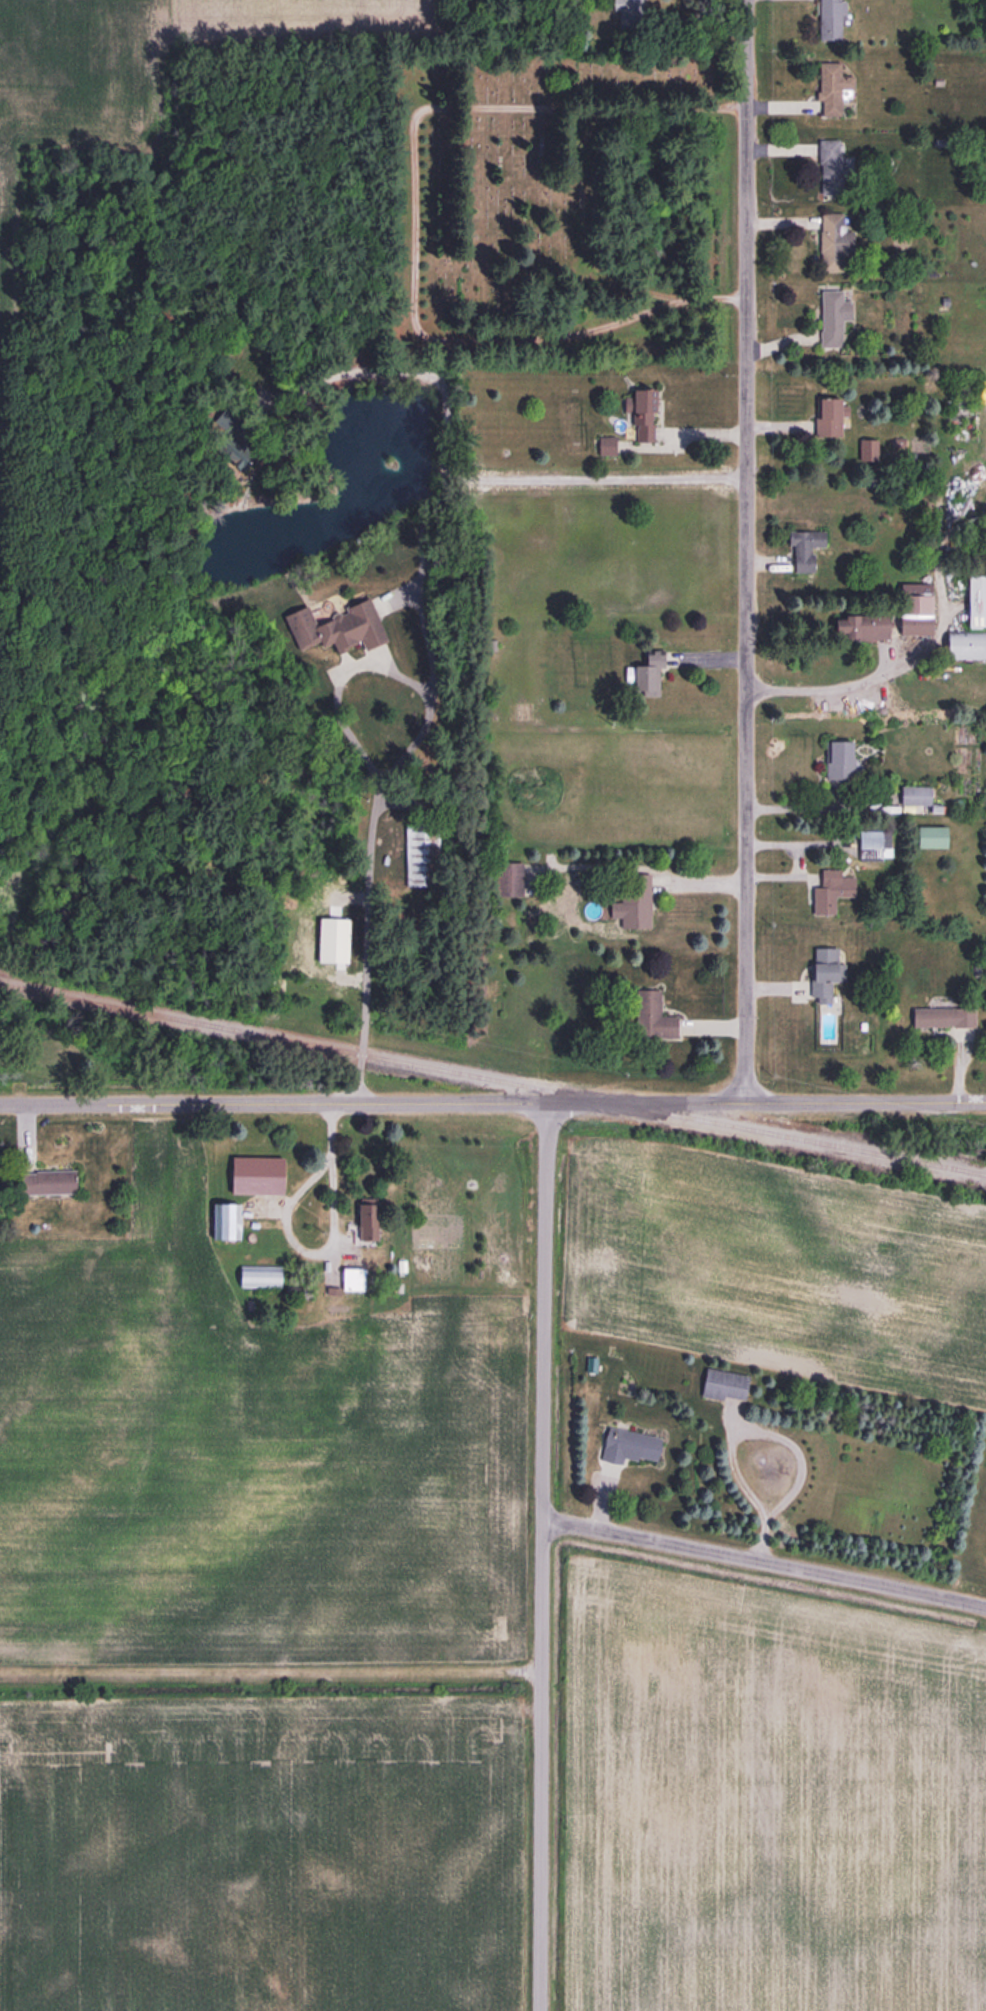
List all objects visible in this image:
building: (629, 9)
building: (829, 19)
building: (830, 88)
building: (830, 166)
park: (528, 203)
building: (834, 243)
building: (832, 316)
building: (640, 412)
building: (826, 417)
building: (604, 445)
building: (803, 548)
road: (748, 551)
building: (911, 608)
building: (969, 624)
building: (856, 626)
building: (334, 627)
building: (643, 675)
road: (826, 689)
building: (837, 760)
building: (913, 795)
road: (815, 807)
road: (370, 836)
building: (928, 837)
building: (873, 845)
road: (793, 862)
building: (506, 879)
building: (826, 890)
building: (631, 903)
building: (820, 973)
building: (650, 1016)
building: (940, 1017)
railway: (493, 1078)
road: (492, 1102)
building: (254, 1175)
building: (39, 1182)
building: (222, 1221)
building: (363, 1222)
road: (328, 1255)
building: (259, 1276)
building: (723, 1385)
building: (627, 1446)
road: (544, 1556)
road: (765, 1565)
road: (272, 1670)

